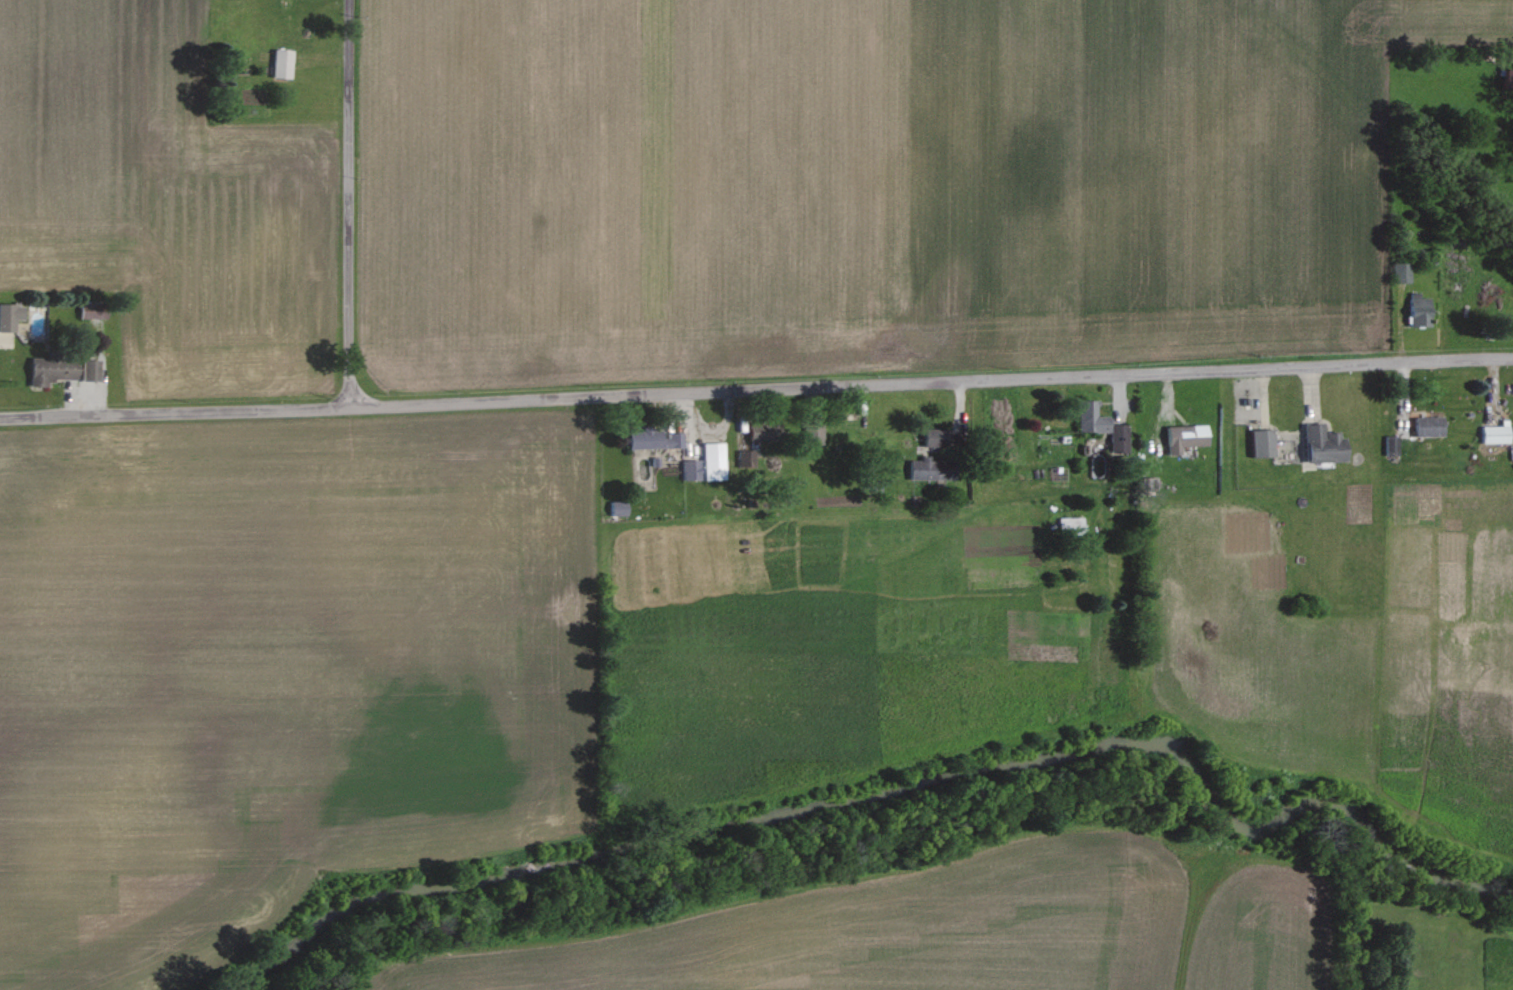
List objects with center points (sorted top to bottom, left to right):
building: (283, 63)
road: (347, 203)
building: (1403, 272)
building: (91, 310)
building: (1421, 310)
building: (10, 316)
building: (54, 369)
building: (90, 369)
road: (930, 385)
road: (174, 411)
building: (1103, 425)
building: (1430, 425)
building: (765, 429)
building: (816, 433)
building: (1497, 433)
building: (943, 436)
building: (1186, 437)
building: (655, 438)
building: (1264, 442)
building: (1325, 444)
building: (1392, 445)
building: (747, 458)
building: (715, 460)
building: (691, 469)
building: (933, 469)
building: (1147, 483)
building: (619, 507)

